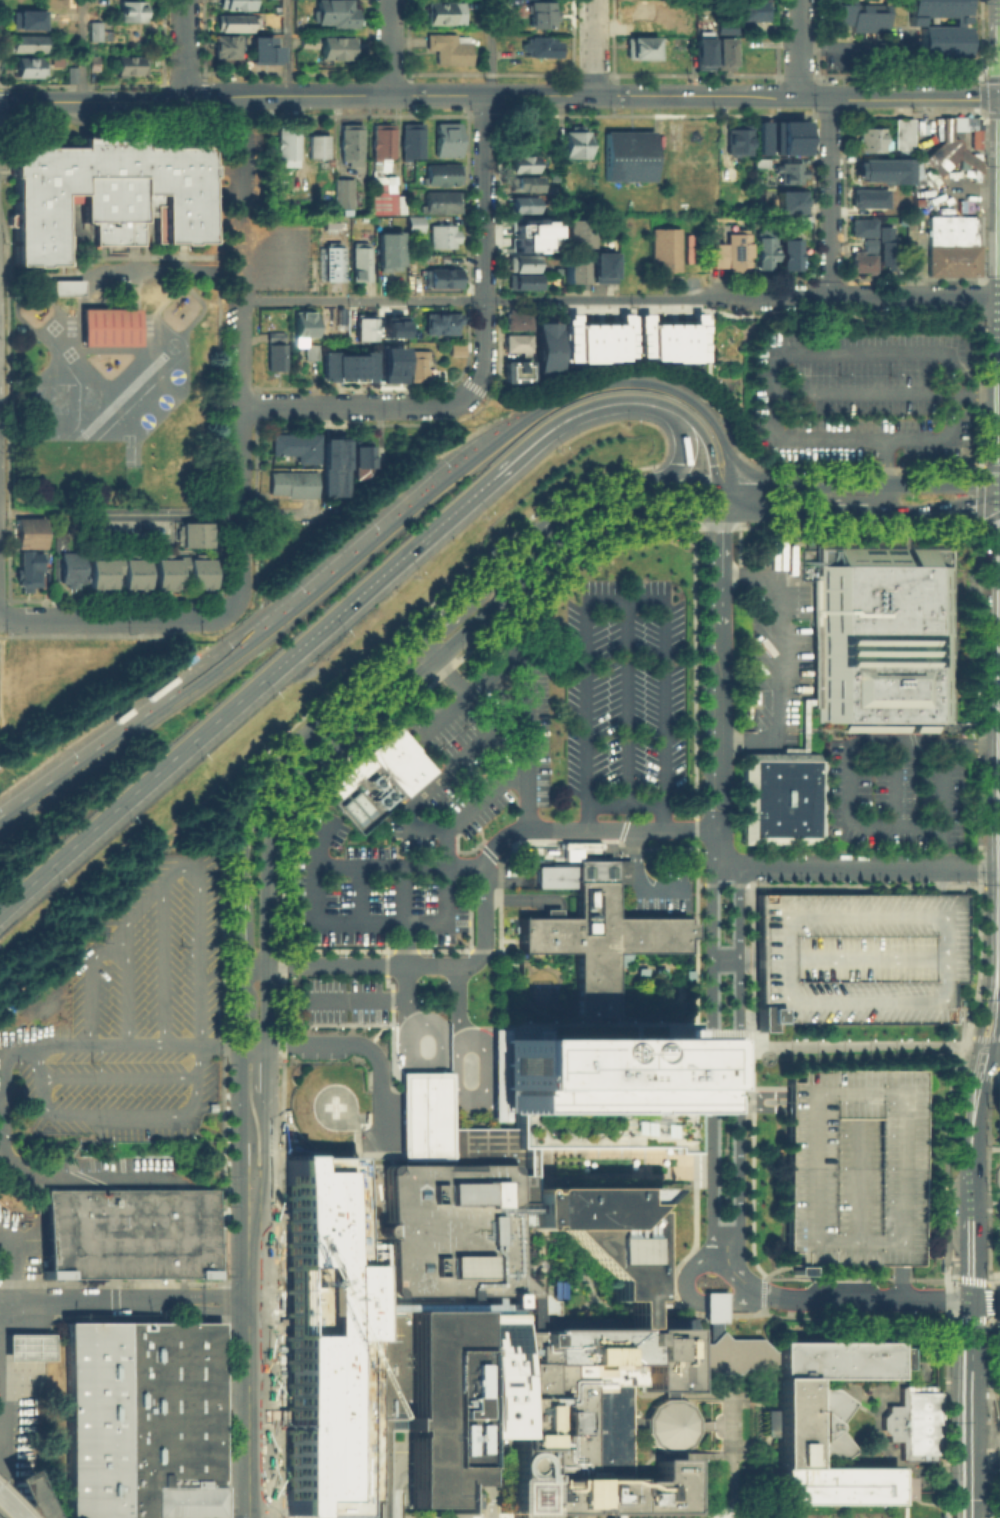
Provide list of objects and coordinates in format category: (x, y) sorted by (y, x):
building: (234, 3)
building: (936, 5)
building: (536, 9)
building: (644, 9)
building: (748, 9)
building: (131, 10)
building: (444, 11)
building: (332, 12)
building: (854, 14)
building: (27, 18)
building: (235, 22)
building: (721, 24)
building: (92, 29)
building: (943, 39)
building: (24, 40)
building: (535, 43)
building: (328, 44)
building: (224, 45)
building: (641, 46)
building: (702, 46)
road: (847, 46)
road: (287, 47)
road: (390, 47)
road: (594, 47)
building: (266, 48)
road: (491, 48)
road: (797, 48)
road: (184, 49)
building: (723, 49)
road: (83, 50)
building: (453, 51)
building: (91, 62)
building: (129, 63)
building: (26, 65)
building: (69, 72)
road: (695, 96)
road: (194, 97)
building: (902, 132)
building: (761, 136)
building: (787, 136)
building: (874, 141)
building: (450, 142)
building: (741, 142)
building: (415, 143)
building: (578, 144)
building: (285, 146)
building: (354, 146)
building: (321, 148)
building: (386, 149)
building: (941, 154)
building: (627, 155)
building: (763, 165)
building: (524, 167)
building: (877, 171)
building: (792, 175)
building: (731, 176)
building: (446, 177)
road: (240, 186)
building: (526, 186)
building: (107, 191)
building: (346, 196)
road: (829, 196)
road: (484, 198)
building: (384, 199)
building: (790, 200)
building: (871, 200)
building: (446, 205)
building: (526, 207)
building: (418, 227)
building: (863, 227)
building: (526, 229)
building: (574, 232)
building: (446, 239)
building: (871, 246)
building: (687, 248)
building: (955, 248)
building: (767, 250)
building: (890, 252)
building: (666, 253)
building: (716, 254)
building: (740, 254)
building: (392, 255)
building: (792, 257)
building: (336, 263)
building: (359, 263)
building: (525, 264)
building: (865, 264)
building: (571, 270)
building: (606, 270)
building: (445, 280)
building: (525, 284)
building: (66, 287)
road: (240, 288)
road: (862, 296)
road: (706, 297)
road: (362, 300)
road: (585, 300)
building: (391, 322)
building: (518, 323)
building: (107, 326)
building: (364, 326)
building: (443, 326)
building: (306, 329)
building: (669, 338)
building: (278, 339)
building: (595, 339)
road: (483, 344)
building: (517, 345)
building: (547, 346)
building: (455, 349)
road: (841, 352)
road: (240, 353)
building: (314, 355)
building: (279, 360)
building: (391, 363)
building: (350, 366)
building: (421, 368)
building: (516, 370)
road: (629, 370)
road: (590, 388)
road: (479, 390)
road: (864, 395)
parking lot: (863, 396)
road: (976, 396)
road: (359, 406)
road: (569, 418)
road: (702, 432)
road: (685, 444)
building: (300, 448)
road: (240, 454)
road: (886, 461)
building: (365, 462)
building: (335, 465)
road: (811, 468)
road: (745, 469)
road: (688, 483)
road: (741, 483)
road: (826, 483)
road: (942, 484)
building: (295, 486)
road: (482, 487)
road: (716, 497)
road: (724, 497)
road: (587, 498)
road: (886, 499)
road: (953, 502)
road: (165, 512)
road: (773, 512)
road: (857, 513)
road: (896, 514)
road: (952, 517)
building: (192, 534)
building: (33, 535)
road: (361, 547)
road: (561, 551)
road: (240, 558)
building: (69, 569)
building: (116, 569)
building: (181, 569)
building: (31, 572)
road: (490, 574)
road: (360, 593)
road: (623, 601)
road: (442, 615)
road: (217, 617)
road: (101, 620)
building: (885, 636)
parking lot: (775, 647)
road: (426, 649)
road: (777, 661)
road: (476, 684)
road: (719, 691)
parking lot: (617, 693)
road: (625, 700)
road: (151, 709)
road: (443, 714)
road: (219, 716)
road: (525, 739)
road: (297, 742)
road: (970, 742)
road: (441, 773)
building: (377, 778)
road: (890, 783)
road: (297, 785)
parking lot: (892, 790)
building: (778, 797)
road: (626, 799)
road: (849, 817)
road: (94, 827)
road: (624, 829)
parking lot: (409, 840)
road: (939, 844)
road: (358, 864)
road: (861, 865)
road: (186, 868)
road: (939, 879)
road: (638, 880)
road: (484, 884)
parking lot: (668, 884)
road: (519, 898)
road: (941, 916)
road: (420, 922)
building: (594, 928)
road: (238, 934)
building: (856, 956)
parking lot: (856, 956)
road: (745, 957)
road: (860, 957)
road: (253, 966)
road: (371, 966)
road: (405, 969)
building: (639, 970)
building: (657, 970)
building: (687, 973)
road: (354, 998)
parking lot: (343, 999)
road: (997, 1000)
road: (456, 1002)
road: (238, 1005)
road: (268, 1005)
road: (560, 1024)
road: (725, 1035)
road: (750, 1035)
road: (977, 1036)
road: (989, 1036)
road: (852, 1043)
road: (129, 1044)
road: (219, 1044)
road: (253, 1044)
road: (368, 1047)
road: (12, 1048)
road: (962, 1051)
road: (992, 1055)
road: (739, 1057)
road: (711, 1060)
road: (975, 1072)
road: (995, 1074)
building: (591, 1089)
building: (697, 1091)
road: (239, 1092)
road: (836, 1092)
road: (480, 1094)
helipad: (332, 1105)
road: (268, 1113)
road: (972, 1136)
road: (558, 1145)
road: (242, 1160)
road: (851, 1165)
building: (851, 1166)
parking lot: (851, 1166)
park: (995, 1180)
building: (130, 1232)
road: (253, 1240)
road: (972, 1259)
road: (728, 1265)
road: (11, 1268)
road: (688, 1270)
road: (994, 1280)
road: (987, 1283)
building: (554, 1287)
building: (518, 1300)
road: (853, 1300)
traffic signals: (972, 1300)
road: (986, 1300)
road: (151, 1301)
road: (25, 1302)
road: (742, 1303)
building: (712, 1305)
road: (713, 1305)
building: (325, 1331)
building: (26, 1344)
building: (725, 1352)
building: (420, 1399)
road: (970, 1408)
road: (254, 1409)
building: (138, 1419)
building: (666, 1421)
building: (825, 1421)
building: (912, 1421)
road: (712, 1423)
road: (730, 1445)
road: (0, 1466)
road: (412, 1476)
road: (484, 1493)
helipad: (518, 1495)
road: (22, 1498)
building: (383, 1513)
road: (606, 1515)
road: (1, 1517)

